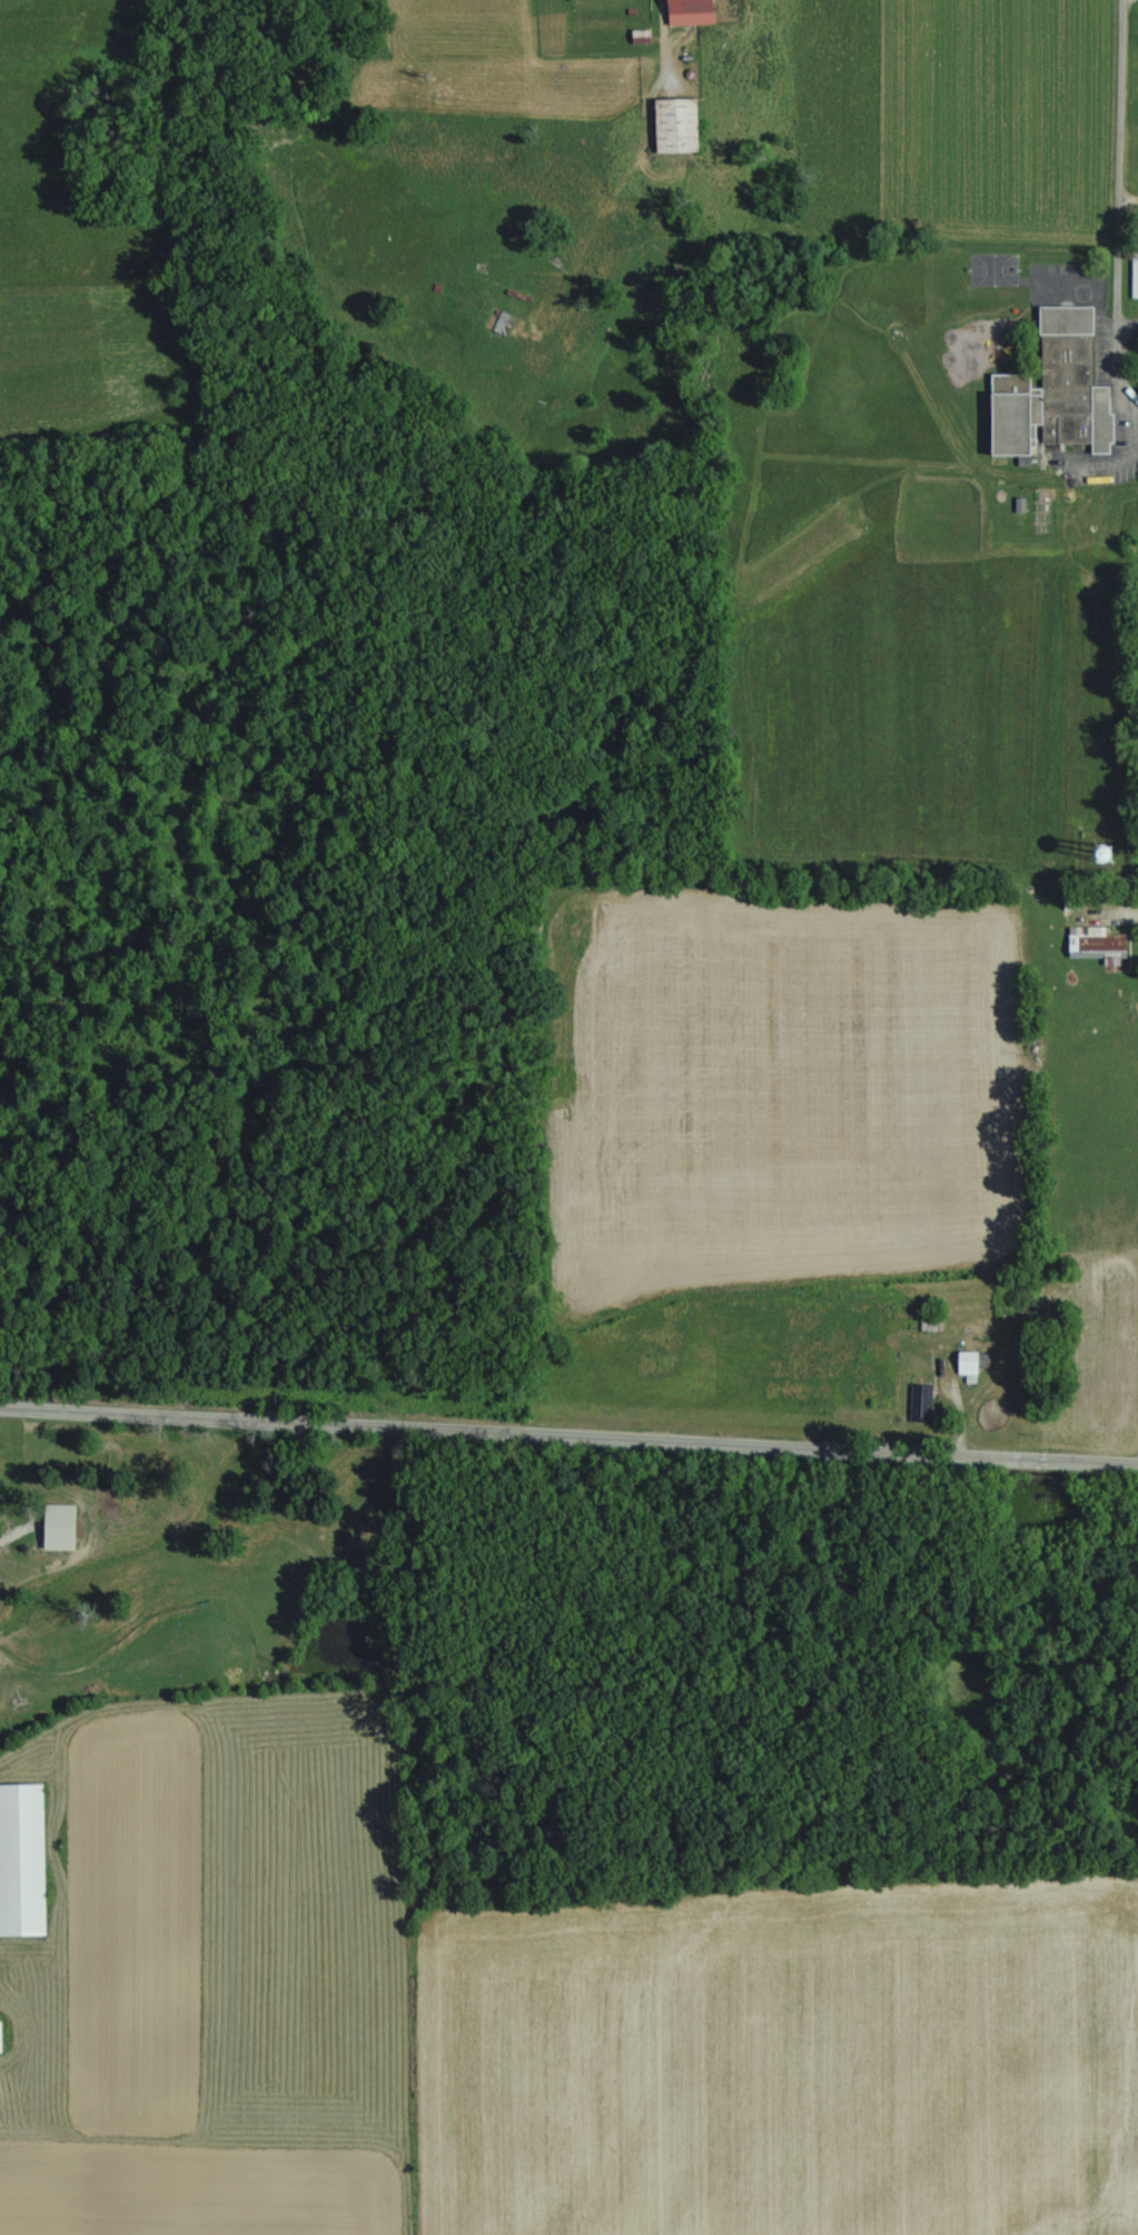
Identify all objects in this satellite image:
building: (693, 12)
building: (643, 38)
road: (1121, 92)
building: (680, 128)
road: (1126, 194)
building: (1136, 274)
road: (1117, 304)
building: (1057, 392)
building: (1099, 943)
building: (970, 1366)
building: (922, 1404)
road: (568, 1432)
building: (61, 1539)
building: (23, 1862)
building: (1, 2039)

